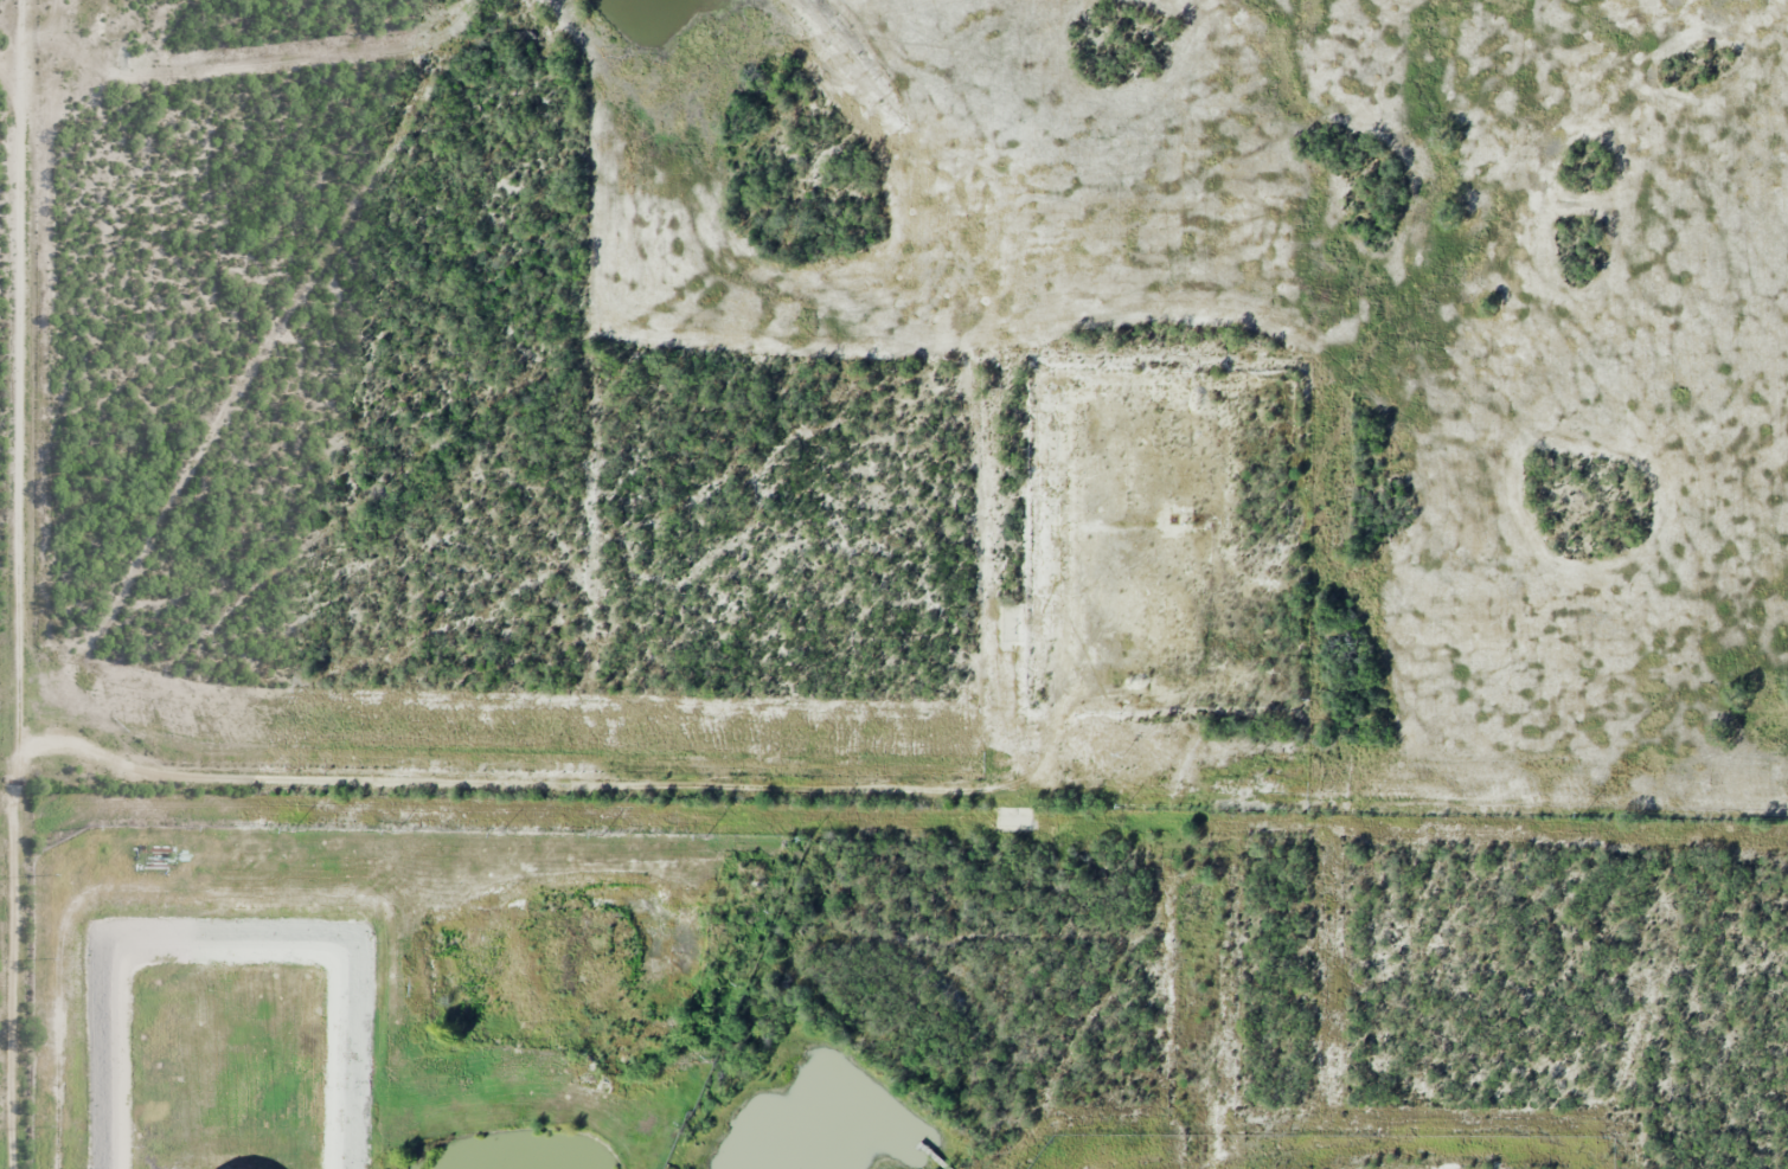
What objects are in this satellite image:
road: (9, 650)

